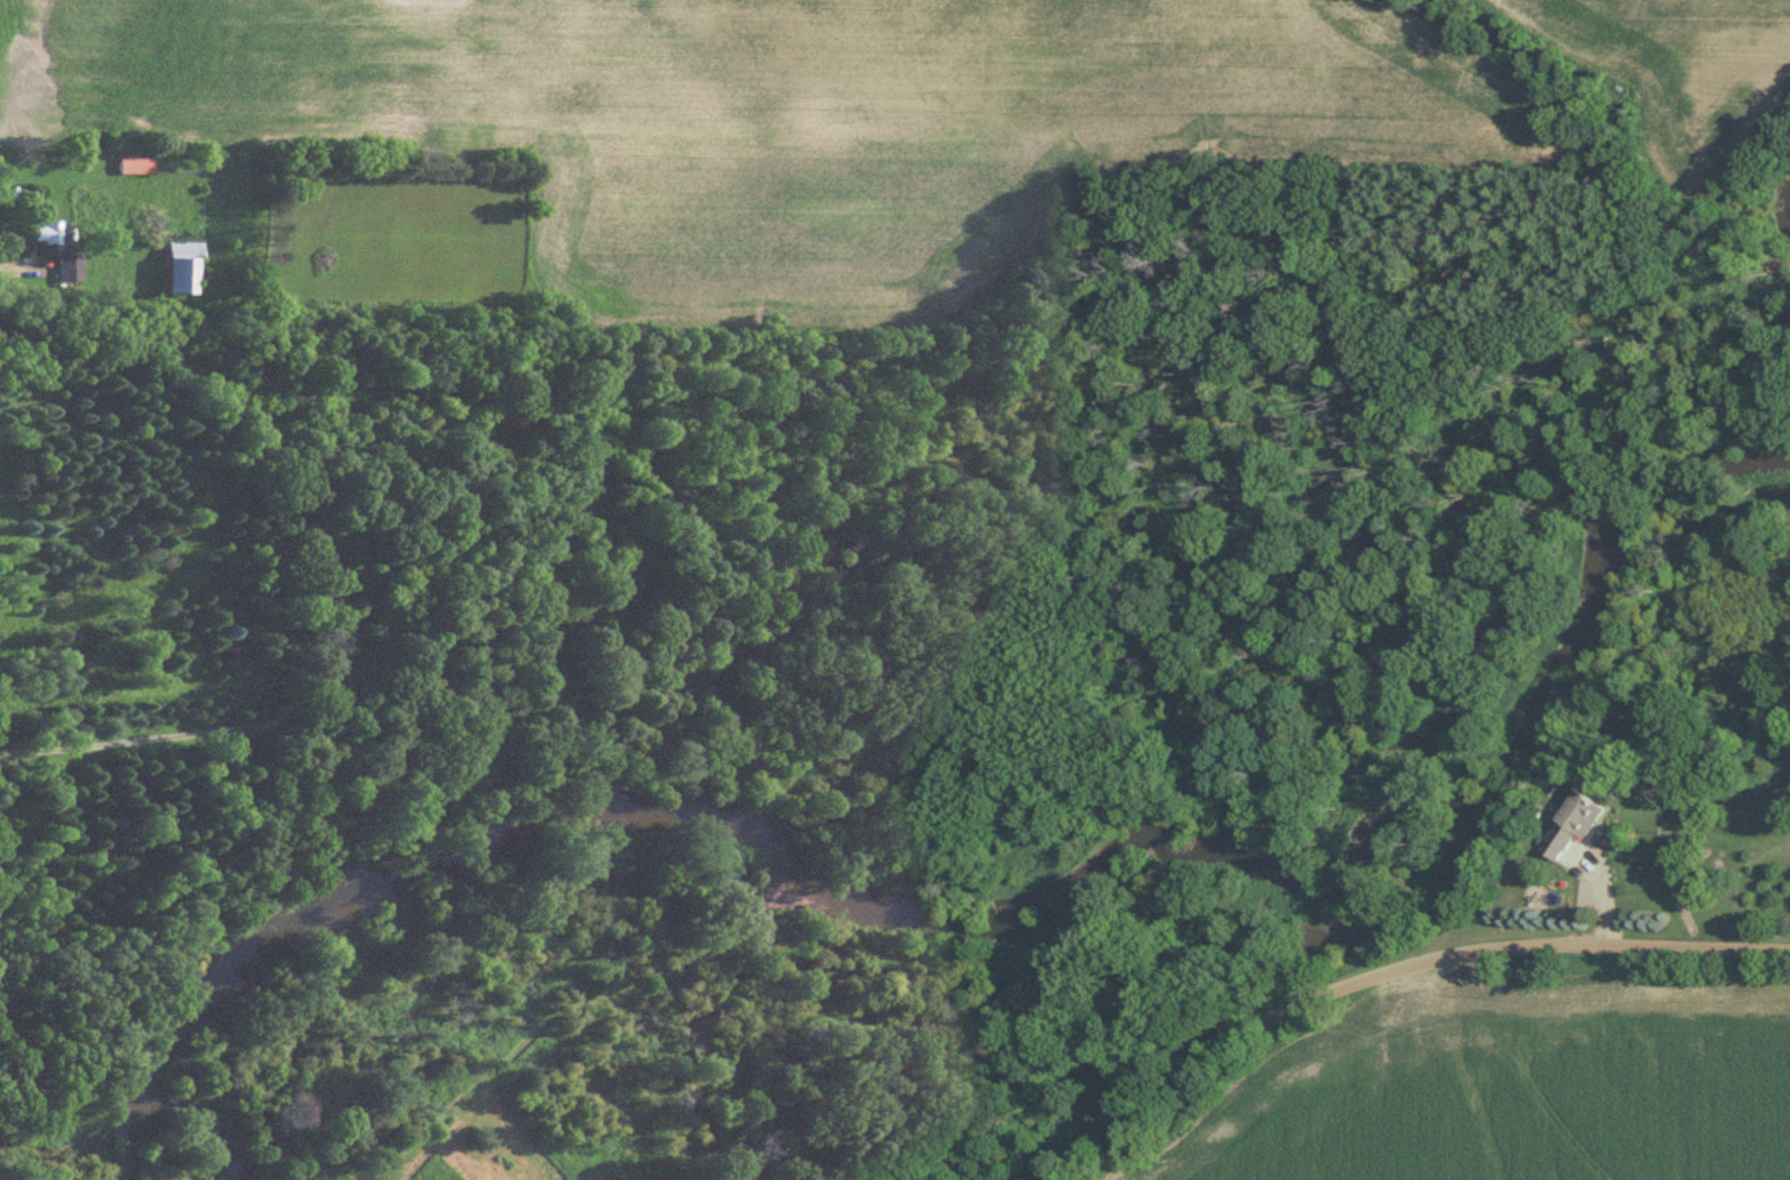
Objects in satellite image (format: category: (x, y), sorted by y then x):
building: (130, 164)
building: (87, 188)
building: (39, 229)
building: (176, 262)
building: (64, 264)
road: (24, 269)
building: (335, 672)
road: (125, 738)
building: (1569, 822)
river: (970, 915)
road: (1401, 962)

